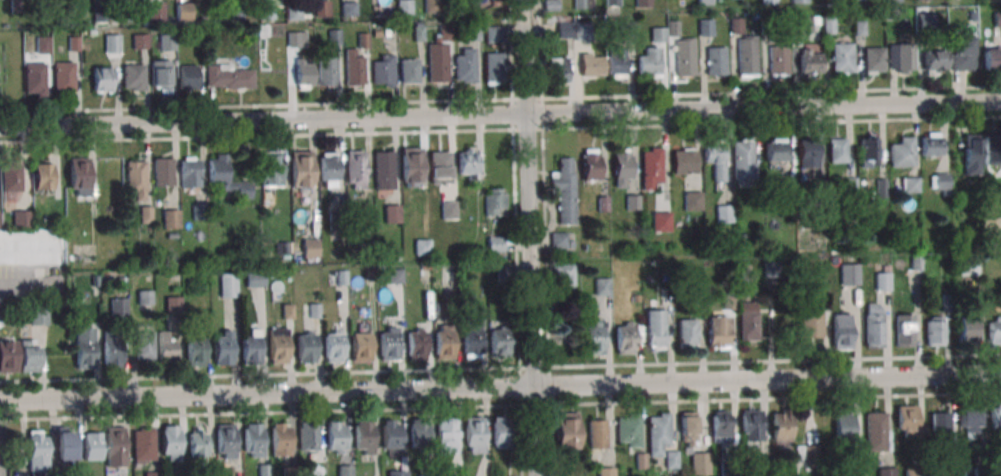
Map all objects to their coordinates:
building: (857, 0)
building: (892, 0)
building: (768, 1)
building: (798, 1)
building: (612, 2)
building: (705, 2)
building: (498, 3)
building: (643, 3)
building: (583, 4)
building: (551, 5)
building: (404, 6)
building: (431, 6)
building: (15, 7)
building: (322, 7)
building: (156, 10)
building: (349, 10)
building: (184, 11)
building: (237, 12)
building: (266, 12)
building: (128, 13)
building: (294, 13)
building: (101, 14)
building: (971, 16)
building: (888, 17)
building: (997, 18)
building: (923, 22)
building: (801, 24)
building: (828, 24)
building: (736, 25)
building: (766, 26)
building: (706, 27)
building: (673, 28)
building: (859, 28)
building: (626, 30)
building: (565, 31)
building: (581, 31)
building: (92, 33)
building: (474, 33)
building: (376, 34)
building: (419, 34)
building: (657, 34)
building: (494, 35)
building: (297, 38)
building: (334, 38)
building: (139, 40)
building: (167, 41)
building: (363, 41)
building: (112, 43)
building: (43, 44)
building: (74, 45)
building: (962, 51)
building: (684, 56)
building: (747, 56)
building: (841, 56)
building: (439, 57)
building: (901, 57)
building: (992, 58)
building: (778, 59)
building: (874, 59)
building: (716, 60)
building: (935, 60)
building: (616, 61)
building: (649, 61)
building: (810, 61)
building: (592, 63)
building: (466, 67)
building: (354, 69)
building: (494, 69)
building: (558, 69)
building: (382, 70)
building: (408, 70)
building: (327, 71)
building: (304, 73)
building: (160, 74)
building: (63, 76)
building: (229, 76)
building: (133, 77)
building: (186, 77)
building: (35, 78)
building: (102, 79)
road: (500, 100)
road: (500, 113)
road: (500, 130)
building: (930, 143)
building: (992, 147)
building: (776, 149)
building: (837, 149)
building: (868, 150)
building: (901, 152)
building: (807, 153)
building: (971, 153)
building: (715, 158)
building: (743, 159)
building: (683, 161)
building: (470, 163)
building: (590, 164)
building: (622, 165)
building: (329, 166)
building: (411, 166)
building: (651, 166)
building: (440, 167)
building: (270, 168)
building: (355, 169)
building: (301, 170)
building: (383, 170)
building: (163, 171)
building: (190, 172)
building: (42, 175)
building: (11, 176)
building: (79, 176)
building: (226, 176)
building: (136, 177)
building: (939, 181)
building: (850, 184)
building: (910, 184)
building: (786, 187)
building: (819, 187)
building: (880, 188)
building: (563, 189)
building: (997, 195)
building: (693, 200)
building: (495, 201)
building: (632, 201)
building: (603, 204)
building: (94, 210)
building: (448, 210)
building: (198, 211)
building: (724, 213)
building: (392, 214)
building: (145, 215)
building: (170, 218)
building: (22, 219)
building: (0, 220)
building: (661, 220)
building: (336, 221)
road: (530, 237)
road: (545, 237)
road: (515, 238)
building: (559, 240)
building: (495, 243)
building: (421, 246)
building: (310, 248)
road: (23, 257)
building: (915, 262)
building: (425, 266)
building: (770, 269)
building: (564, 273)
building: (504, 274)
building: (849, 274)
building: (287, 275)
building: (370, 275)
building: (332, 276)
building: (395, 276)
building: (204, 277)
building: (341, 277)
building: (454, 277)
building: (254, 279)
road: (23, 280)
building: (122, 281)
building: (882, 281)
building: (228, 284)
building: (602, 286)
building: (665, 296)
building: (145, 297)
building: (635, 298)
building: (342, 300)
building: (575, 302)
building: (173, 305)
building: (118, 307)
building: (442, 308)
building: (314, 311)
building: (287, 312)
building: (38, 316)
building: (747, 320)
building: (811, 323)
building: (873, 325)
building: (655, 329)
building: (965, 329)
building: (904, 330)
building: (994, 330)
building: (718, 331)
building: (841, 331)
building: (934, 331)
building: (687, 333)
building: (594, 337)
building: (625, 337)
building: (471, 340)
building: (145, 342)
building: (443, 342)
building: (388, 343)
building: (498, 343)
building: (416, 344)
building: (167, 345)
building: (278, 345)
building: (250, 346)
building: (333, 346)
building: (84, 347)
building: (112, 347)
building: (222, 347)
building: (305, 347)
building: (360, 347)
building: (194, 350)
building: (28, 355)
building: (8, 356)
road: (500, 368)
road: (500, 387)
road: (500, 406)
building: (995, 416)
building: (907, 420)
building: (969, 420)
building: (720, 422)
building: (940, 422)
building: (751, 424)
building: (844, 425)
building: (687, 428)
building: (780, 429)
building: (628, 430)
building: (501, 431)
building: (566, 431)
building: (875, 431)
building: (419, 432)
building: (657, 432)
building: (391, 434)
building: (473, 434)
building: (597, 434)
building: (446, 435)
building: (363, 436)
building: (308, 437)
building: (335, 437)
building: (280, 438)
building: (252, 440)
building: (196, 441)
building: (225, 441)
building: (170, 442)
building: (63, 445)
building: (91, 445)
building: (142, 445)
building: (114, 446)
building: (37, 450)
road: (1, 451)
building: (806, 453)
building: (670, 459)
building: (640, 461)
building: (700, 464)
building: (760, 465)
building: (730, 466)
building: (263, 470)
building: (345, 470)
building: (289, 471)
building: (606, 471)
building: (886, 471)
building: (980, 471)
building: (151, 473)
building: (397, 473)
building: (915, 473)

